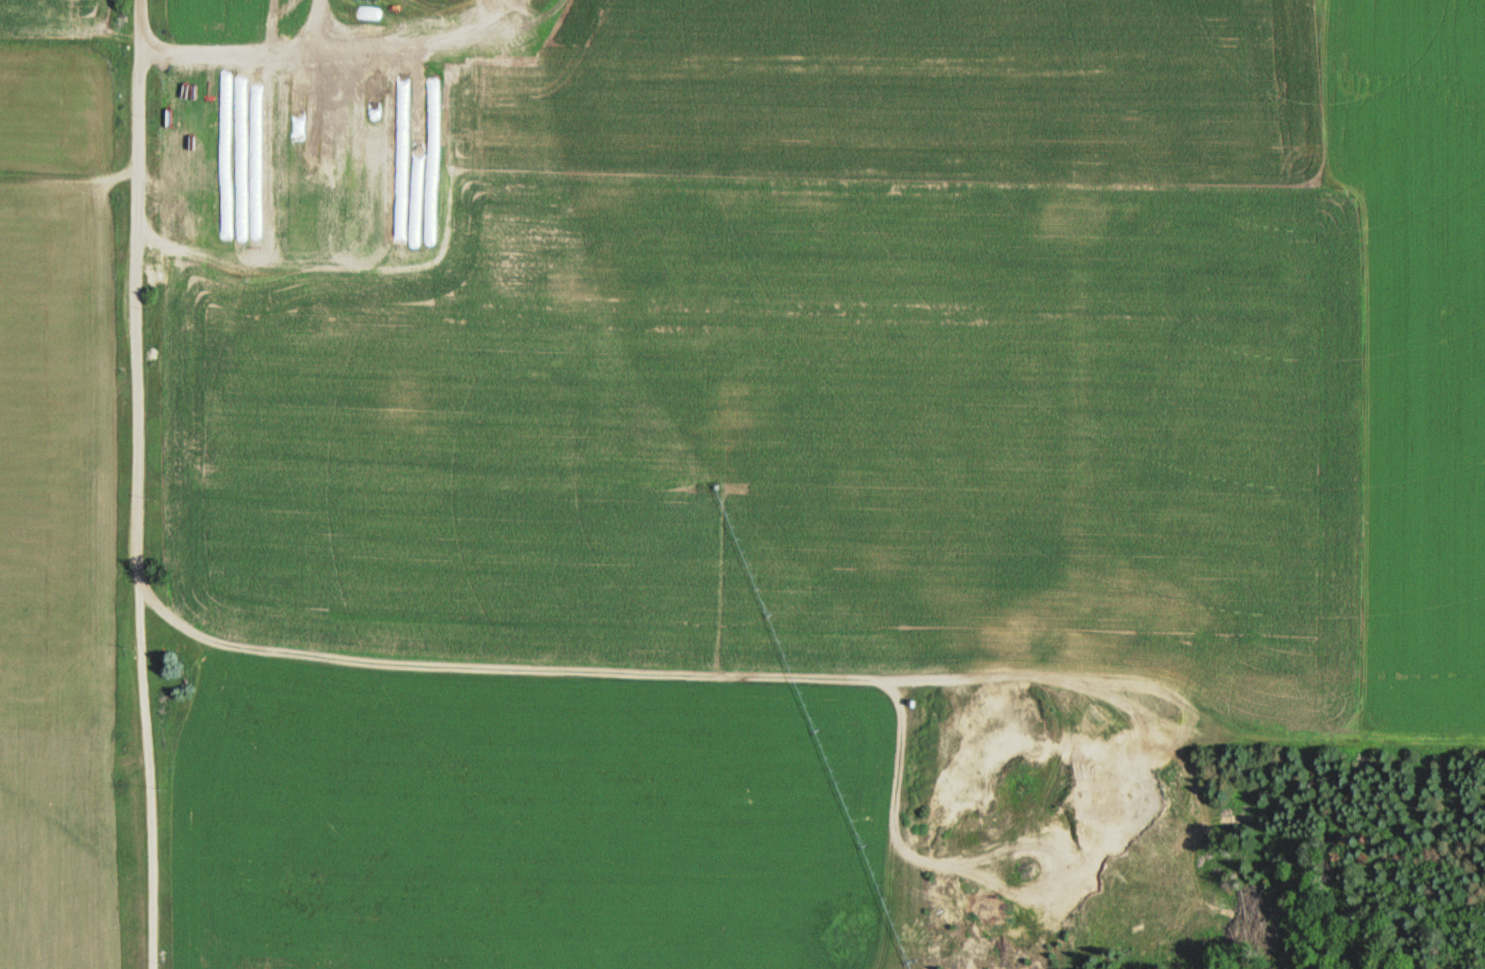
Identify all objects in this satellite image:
building: (177, 14)
road: (139, 85)
road: (139, 570)

